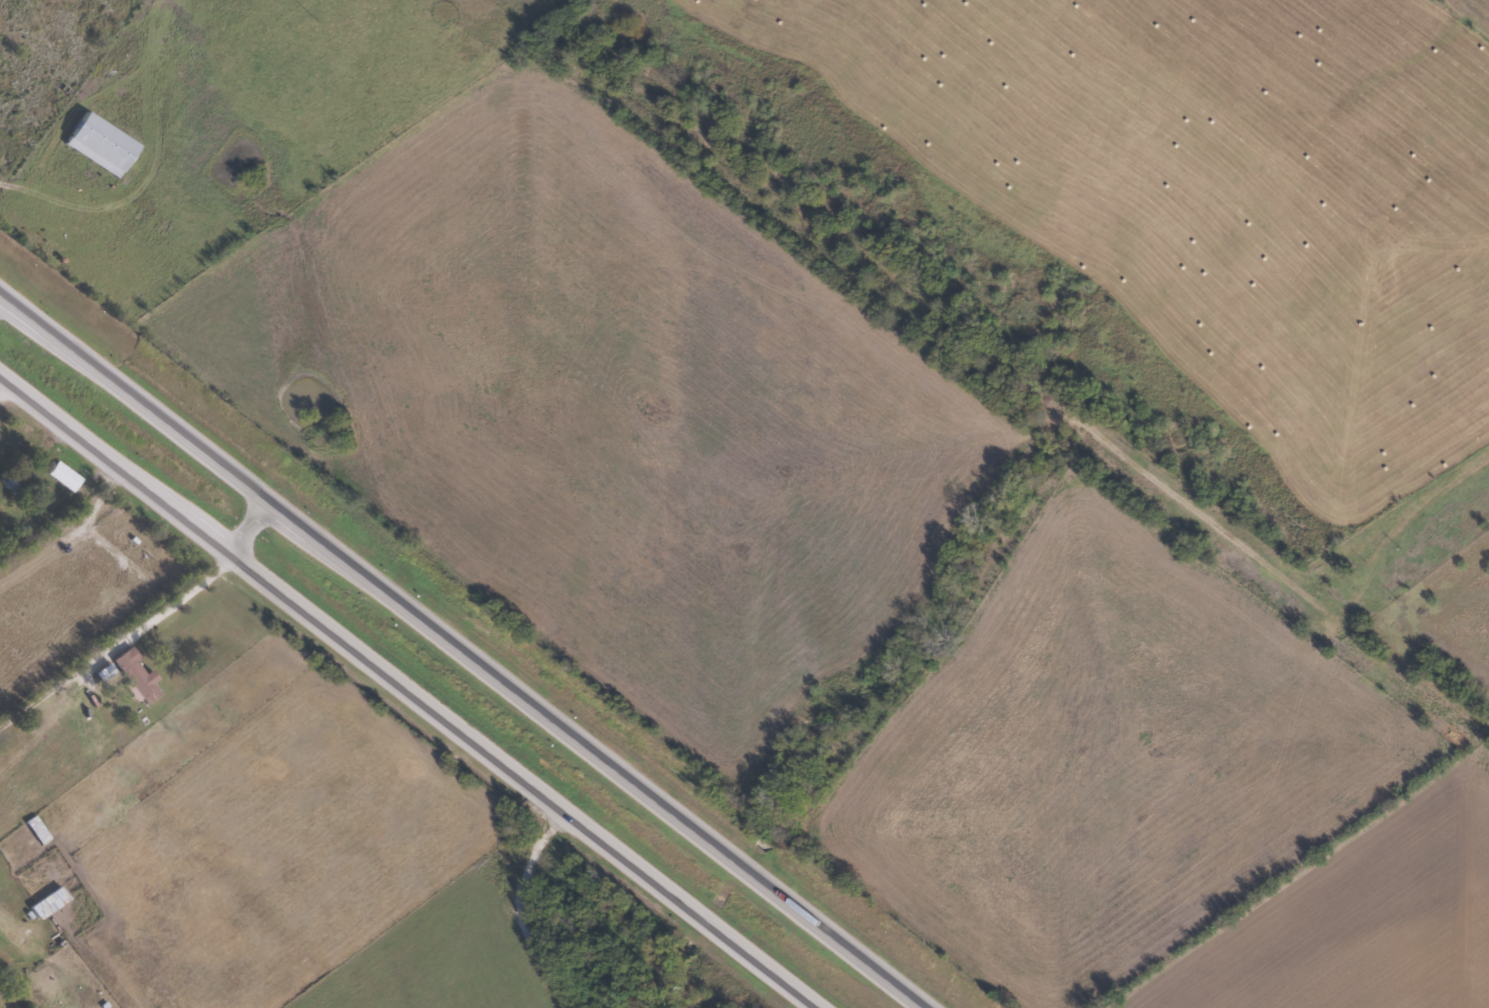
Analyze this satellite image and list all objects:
building: (102, 144)
railway: (1002, 372)
building: (64, 476)
building: (13, 485)
road: (248, 523)
road: (465, 650)
building: (105, 671)
building: (137, 675)
road: (411, 689)
building: (37, 832)
building: (48, 902)
road: (514, 905)

